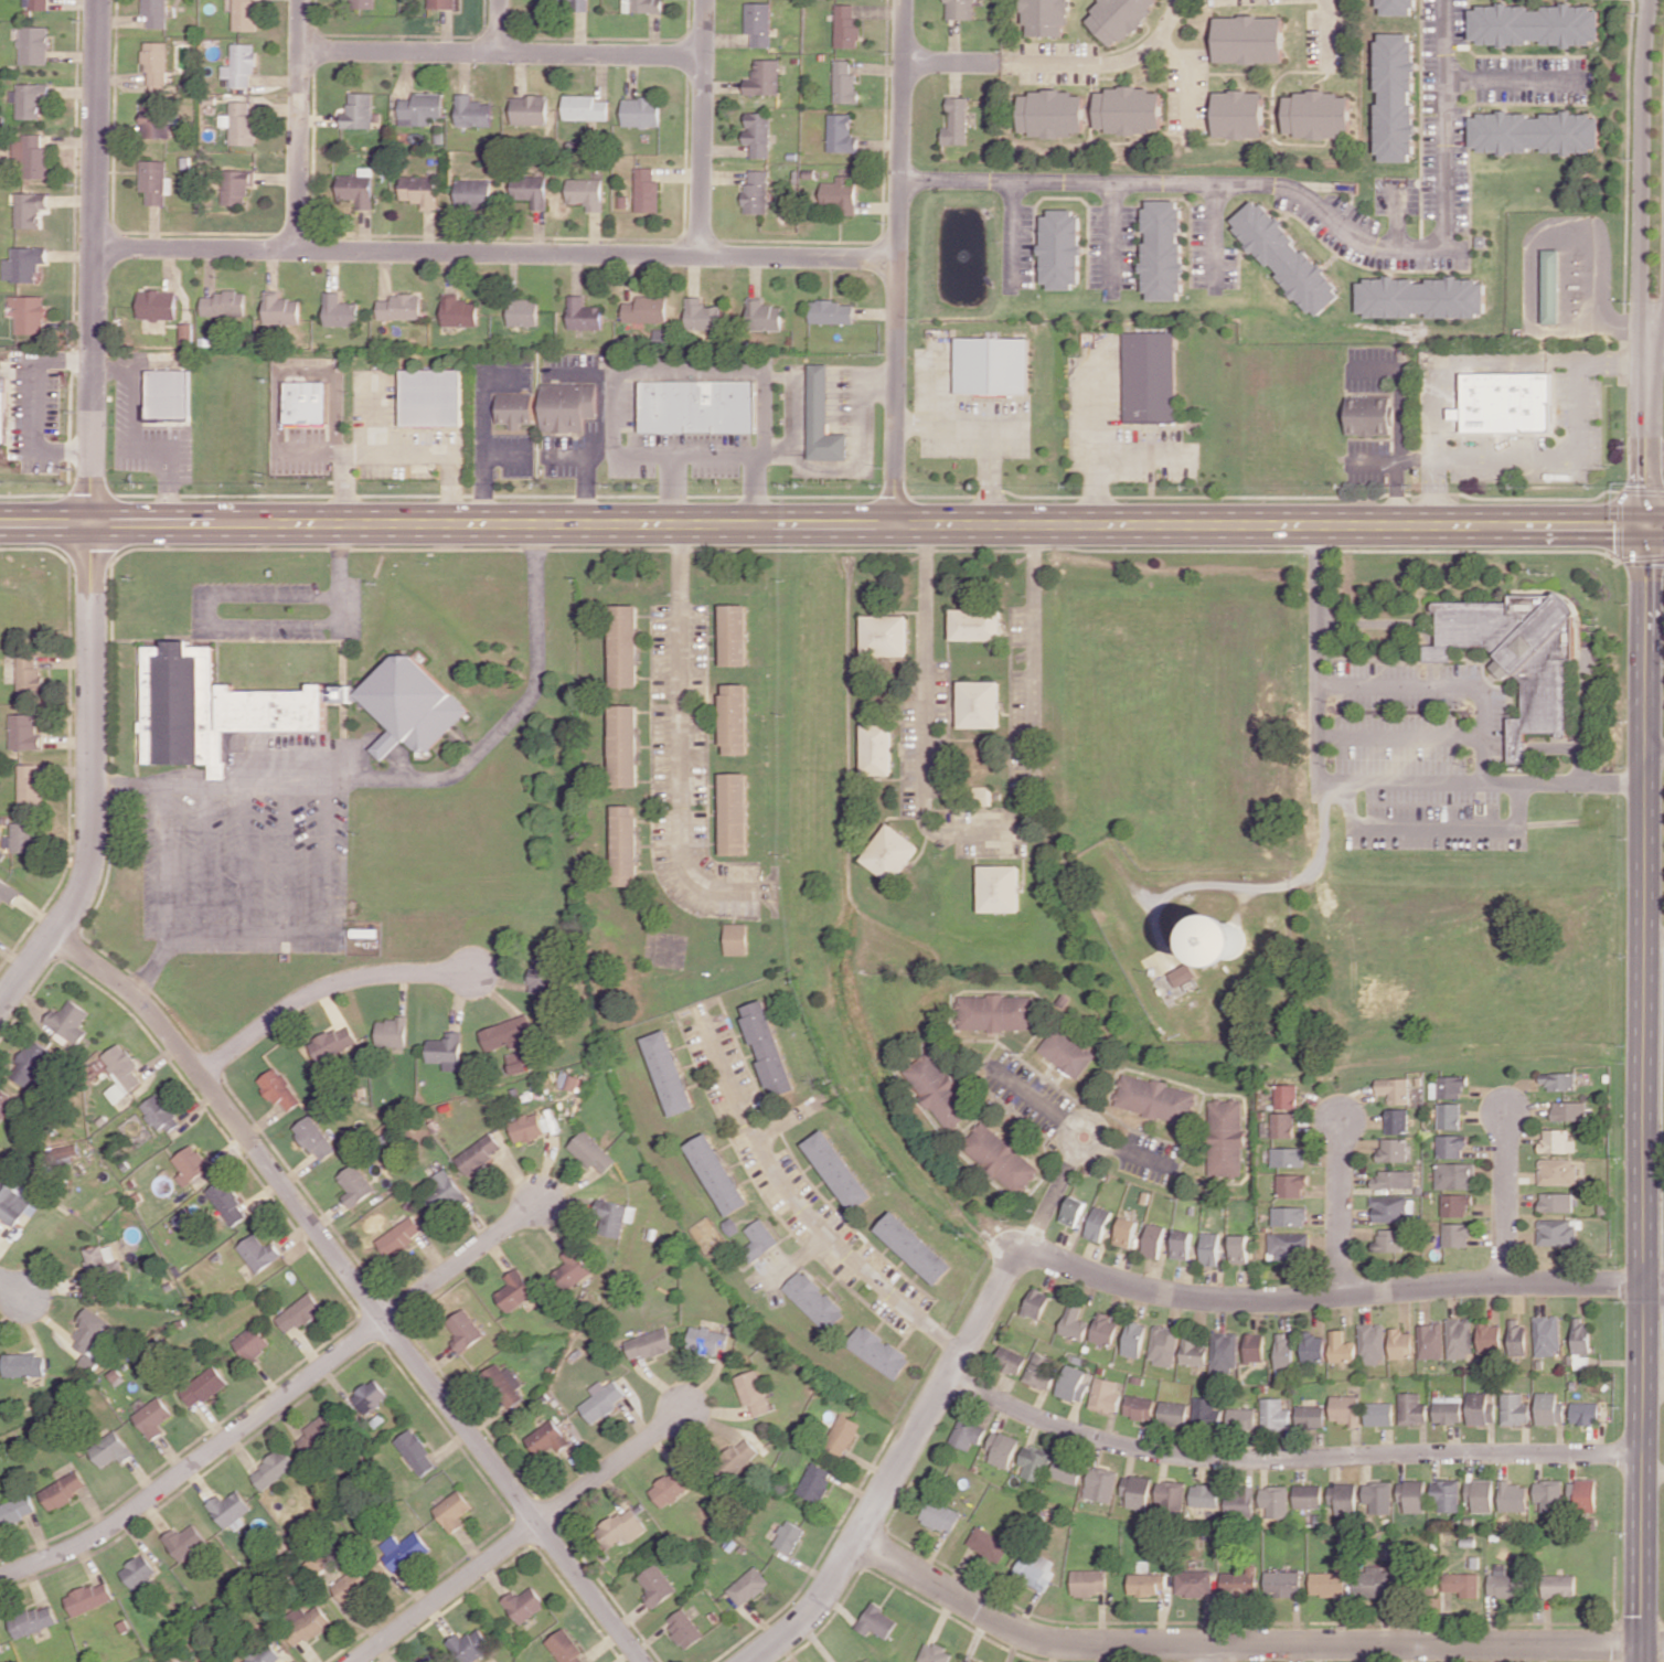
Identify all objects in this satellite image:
building: (362, 3)
building: (441, 3)
building: (574, 3)
building: (38, 4)
building: (640, 6)
building: (1398, 7)
building: (958, 9)
building: (156, 12)
building: (245, 14)
building: (1044, 17)
building: (1119, 18)
building: (756, 22)
building: (1535, 24)
road: (500, 26)
building: (844, 26)
road: (1327, 28)
building: (1249, 39)
building: (35, 44)
road: (501, 53)
road: (951, 63)
road: (1106, 63)
building: (157, 65)
building: (241, 65)
road: (1188, 68)
building: (761, 77)
road: (1513, 78)
building: (843, 83)
building: (1396, 97)
building: (33, 99)
building: (583, 107)
building: (420, 108)
building: (527, 109)
building: (1129, 109)
building: (359, 110)
building: (472, 111)
building: (638, 111)
building: (1053, 113)
building: (1239, 114)
building: (1319, 115)
building: (154, 119)
building: (956, 121)
building: (242, 122)
road: (299, 125)
road: (701, 128)
road: (1448, 128)
building: (1534, 131)
building: (756, 132)
building: (840, 134)
building: (32, 155)
building: (153, 181)
road: (1183, 183)
building: (237, 185)
building: (356, 190)
building: (418, 190)
building: (529, 190)
building: (643, 190)
building: (755, 191)
building: (472, 192)
building: (584, 192)
building: (31, 209)
road: (1014, 238)
building: (1062, 249)
building: (1163, 251)
road: (498, 253)
building: (1286, 257)
building: (25, 263)
road: (898, 263)
building: (1550, 286)
building: (1420, 297)
building: (224, 303)
building: (158, 305)
building: (397, 307)
building: (280, 309)
building: (644, 309)
building: (339, 310)
building: (457, 311)
building: (832, 311)
building: (520, 312)
building: (582, 313)
building: (31, 315)
building: (702, 315)
building: (764, 315)
road: (1655, 328)
road: (1655, 352)
road: (1461, 360)
road: (113, 363)
building: (993, 365)
road: (673, 367)
road: (306, 369)
building: (1151, 376)
building: (169, 394)
building: (430, 397)
building: (306, 402)
building: (1507, 402)
road: (36, 403)
road: (796, 403)
road: (132, 405)
building: (565, 406)
building: (697, 406)
building: (4, 409)
building: (513, 409)
building: (1369, 415)
building: (823, 418)
road: (1401, 420)
road: (599, 428)
road: (482, 433)
road: (148, 446)
road: (387, 450)
road: (309, 452)
road: (860, 457)
road: (1655, 459)
road: (1514, 462)
road: (163, 486)
road: (764, 491)
road: (1655, 493)
road: (1146, 498)
road: (92, 515)
road: (831, 525)
road: (338, 560)
road: (214, 620)
building: (977, 625)
building: (734, 635)
building: (885, 635)
building: (625, 646)
building: (1518, 653)
building: (30, 678)
road: (1442, 685)
building: (343, 693)
building: (150, 700)
building: (980, 703)
building: (408, 704)
building: (218, 707)
building: (735, 718)
building: (25, 732)
road: (678, 742)
road: (1654, 744)
building: (625, 745)
building: (876, 748)
road: (412, 779)
road: (1353, 781)
building: (31, 786)
building: (984, 796)
building: (734, 813)
road: (1431, 825)
road: (1645, 830)
road: (971, 832)
building: (25, 837)
building: (625, 845)
building: (890, 852)
road: (327, 855)
building: (26, 862)
building: (1000, 887)
road: (1276, 888)
building: (8, 892)
road: (1654, 930)
road: (215, 934)
building: (736, 938)
building: (1226, 939)
water tower: (1222, 951)
building: (1183, 973)
building: (540, 974)
road: (322, 988)
building: (995, 1012)
building: (70, 1020)
building: (392, 1032)
building: (508, 1033)
building: (332, 1042)
building: (767, 1046)
building: (445, 1048)
building: (1067, 1051)
building: (30, 1062)
building: (518, 1062)
building: (121, 1070)
building: (668, 1072)
building: (1558, 1079)
building: (1450, 1085)
building: (278, 1088)
building: (1394, 1089)
building: (937, 1090)
building: (1286, 1096)
road: (1035, 1097)
building: (1155, 1098)
building: (6, 1102)
building: (1569, 1110)
building: (159, 1112)
building: (1448, 1116)
building: (1396, 1120)
building: (1282, 1125)
building: (526, 1127)
road: (1097, 1131)
building: (314, 1138)
building: (1225, 1138)
building: (1557, 1141)
building: (1450, 1146)
road: (1128, 1149)
building: (1391, 1150)
building: (66, 1151)
building: (593, 1151)
building: (479, 1154)
building: (1288, 1157)
building: (1000, 1158)
building: (190, 1162)
building: (838, 1170)
building: (1558, 1171)
building: (717, 1173)
building: (1453, 1175)
building: (1391, 1179)
building: (355, 1184)
building: (1292, 1184)
building: (445, 1192)
road: (1053, 1198)
road: (1505, 1198)
building: (15, 1201)
building: (1555, 1201)
building: (227, 1203)
building: (1454, 1204)
road: (1340, 1207)
building: (1388, 1208)
road: (803, 1210)
building: (1073, 1211)
building: (1290, 1216)
building: (614, 1217)
building: (1098, 1223)
building: (1126, 1232)
building: (1556, 1232)
building: (1454, 1234)
building: (401, 1236)
building: (760, 1239)
building: (1153, 1239)
building: (1388, 1240)
building: (1181, 1244)
building: (1289, 1245)
building: (915, 1247)
building: (1209, 1248)
building: (1238, 1248)
building: (258, 1251)
road: (461, 1260)
building: (99, 1266)
building: (570, 1269)
road: (358, 1287)
road: (1654, 1288)
road: (12, 1289)
building: (514, 1290)
road: (1329, 1296)
building: (814, 1300)
building: (1036, 1303)
building: (299, 1312)
building: (1074, 1322)
building: (465, 1329)
building: (1105, 1329)
building: (87, 1331)
building: (1490, 1335)
building: (1517, 1335)
building: (1547, 1335)
building: (1580, 1335)
building: (1459, 1338)
building: (708, 1339)
building: (1133, 1339)
building: (1430, 1340)
building: (252, 1342)
building: (1372, 1342)
building: (650, 1343)
building: (1400, 1343)
building: (1163, 1345)
building: (1312, 1346)
building: (1341, 1346)
building: (1254, 1347)
building: (879, 1351)
building: (1194, 1351)
building: (1224, 1351)
building: (1283, 1351)
building: (1010, 1360)
building: (23, 1364)
building: (1041, 1371)
road: (1653, 1379)
building: (1073, 1383)
building: (504, 1385)
building: (203, 1386)
building: (754, 1392)
building: (1105, 1395)
building: (370, 1396)
building: (602, 1399)
building: (1139, 1407)
building: (1344, 1408)
building: (1411, 1408)
building: (1480, 1408)
building: (1514, 1408)
building: (1549, 1408)
building: (1447, 1409)
building: (1206, 1411)
building: (1173, 1413)
building: (1378, 1413)
building: (1585, 1413)
building: (1274, 1414)
building: (1310, 1416)
building: (153, 1417)
building: (1241, 1418)
building: (318, 1431)
building: (967, 1432)
building: (843, 1435)
building: (547, 1437)
building: (1002, 1448)
building: (111, 1449)
building: (415, 1451)
building: (737, 1458)
road: (198, 1460)
road: (1288, 1460)
building: (1034, 1462)
road: (610, 1467)
road: (895, 1467)
building: (273, 1469)
building: (1066, 1470)
road: (1653, 1472)
building: (815, 1482)
building: (1100, 1484)
building: (670, 1488)
building: (63, 1490)
building: (1135, 1490)
building: (1204, 1494)
building: (1481, 1494)
building: (1549, 1494)
building: (1171, 1495)
building: (1308, 1495)
building: (1412, 1495)
building: (1446, 1495)
building: (1586, 1495)
building: (1378, 1496)
building: (1513, 1496)
building: (1343, 1498)
building: (1274, 1501)
building: (1240, 1503)
building: (230, 1507)
building: (15, 1510)
building: (452, 1510)
building: (940, 1515)
building: (621, 1526)
building: (789, 1536)
building: (184, 1541)
building: (988, 1544)
building: (403, 1549)
building: (1034, 1569)
building: (138, 1570)
building: (1375, 1578)
building: (1088, 1581)
building: (1240, 1581)
building: (1330, 1581)
building: (1148, 1583)
building: (1194, 1583)
building: (1283, 1584)
building: (1463, 1584)
building: (657, 1585)
building: (1504, 1585)
building: (1559, 1585)
building: (352, 1586)
building: (748, 1586)
road: (445, 1591)
building: (89, 1597)
building: (523, 1604)
building: (33, 1620)
building: (876, 1621)
building: (305, 1624)
building: (684, 1628)
building: (469, 1644)
road: (1246, 1644)
building: (565, 1647)
building: (0, 1650)
building: (934, 1653)
road: (1209, 1653)
building: (263, 1654)
building: (427, 1659)
building: (863, 1661)
building: (963, 1661)

